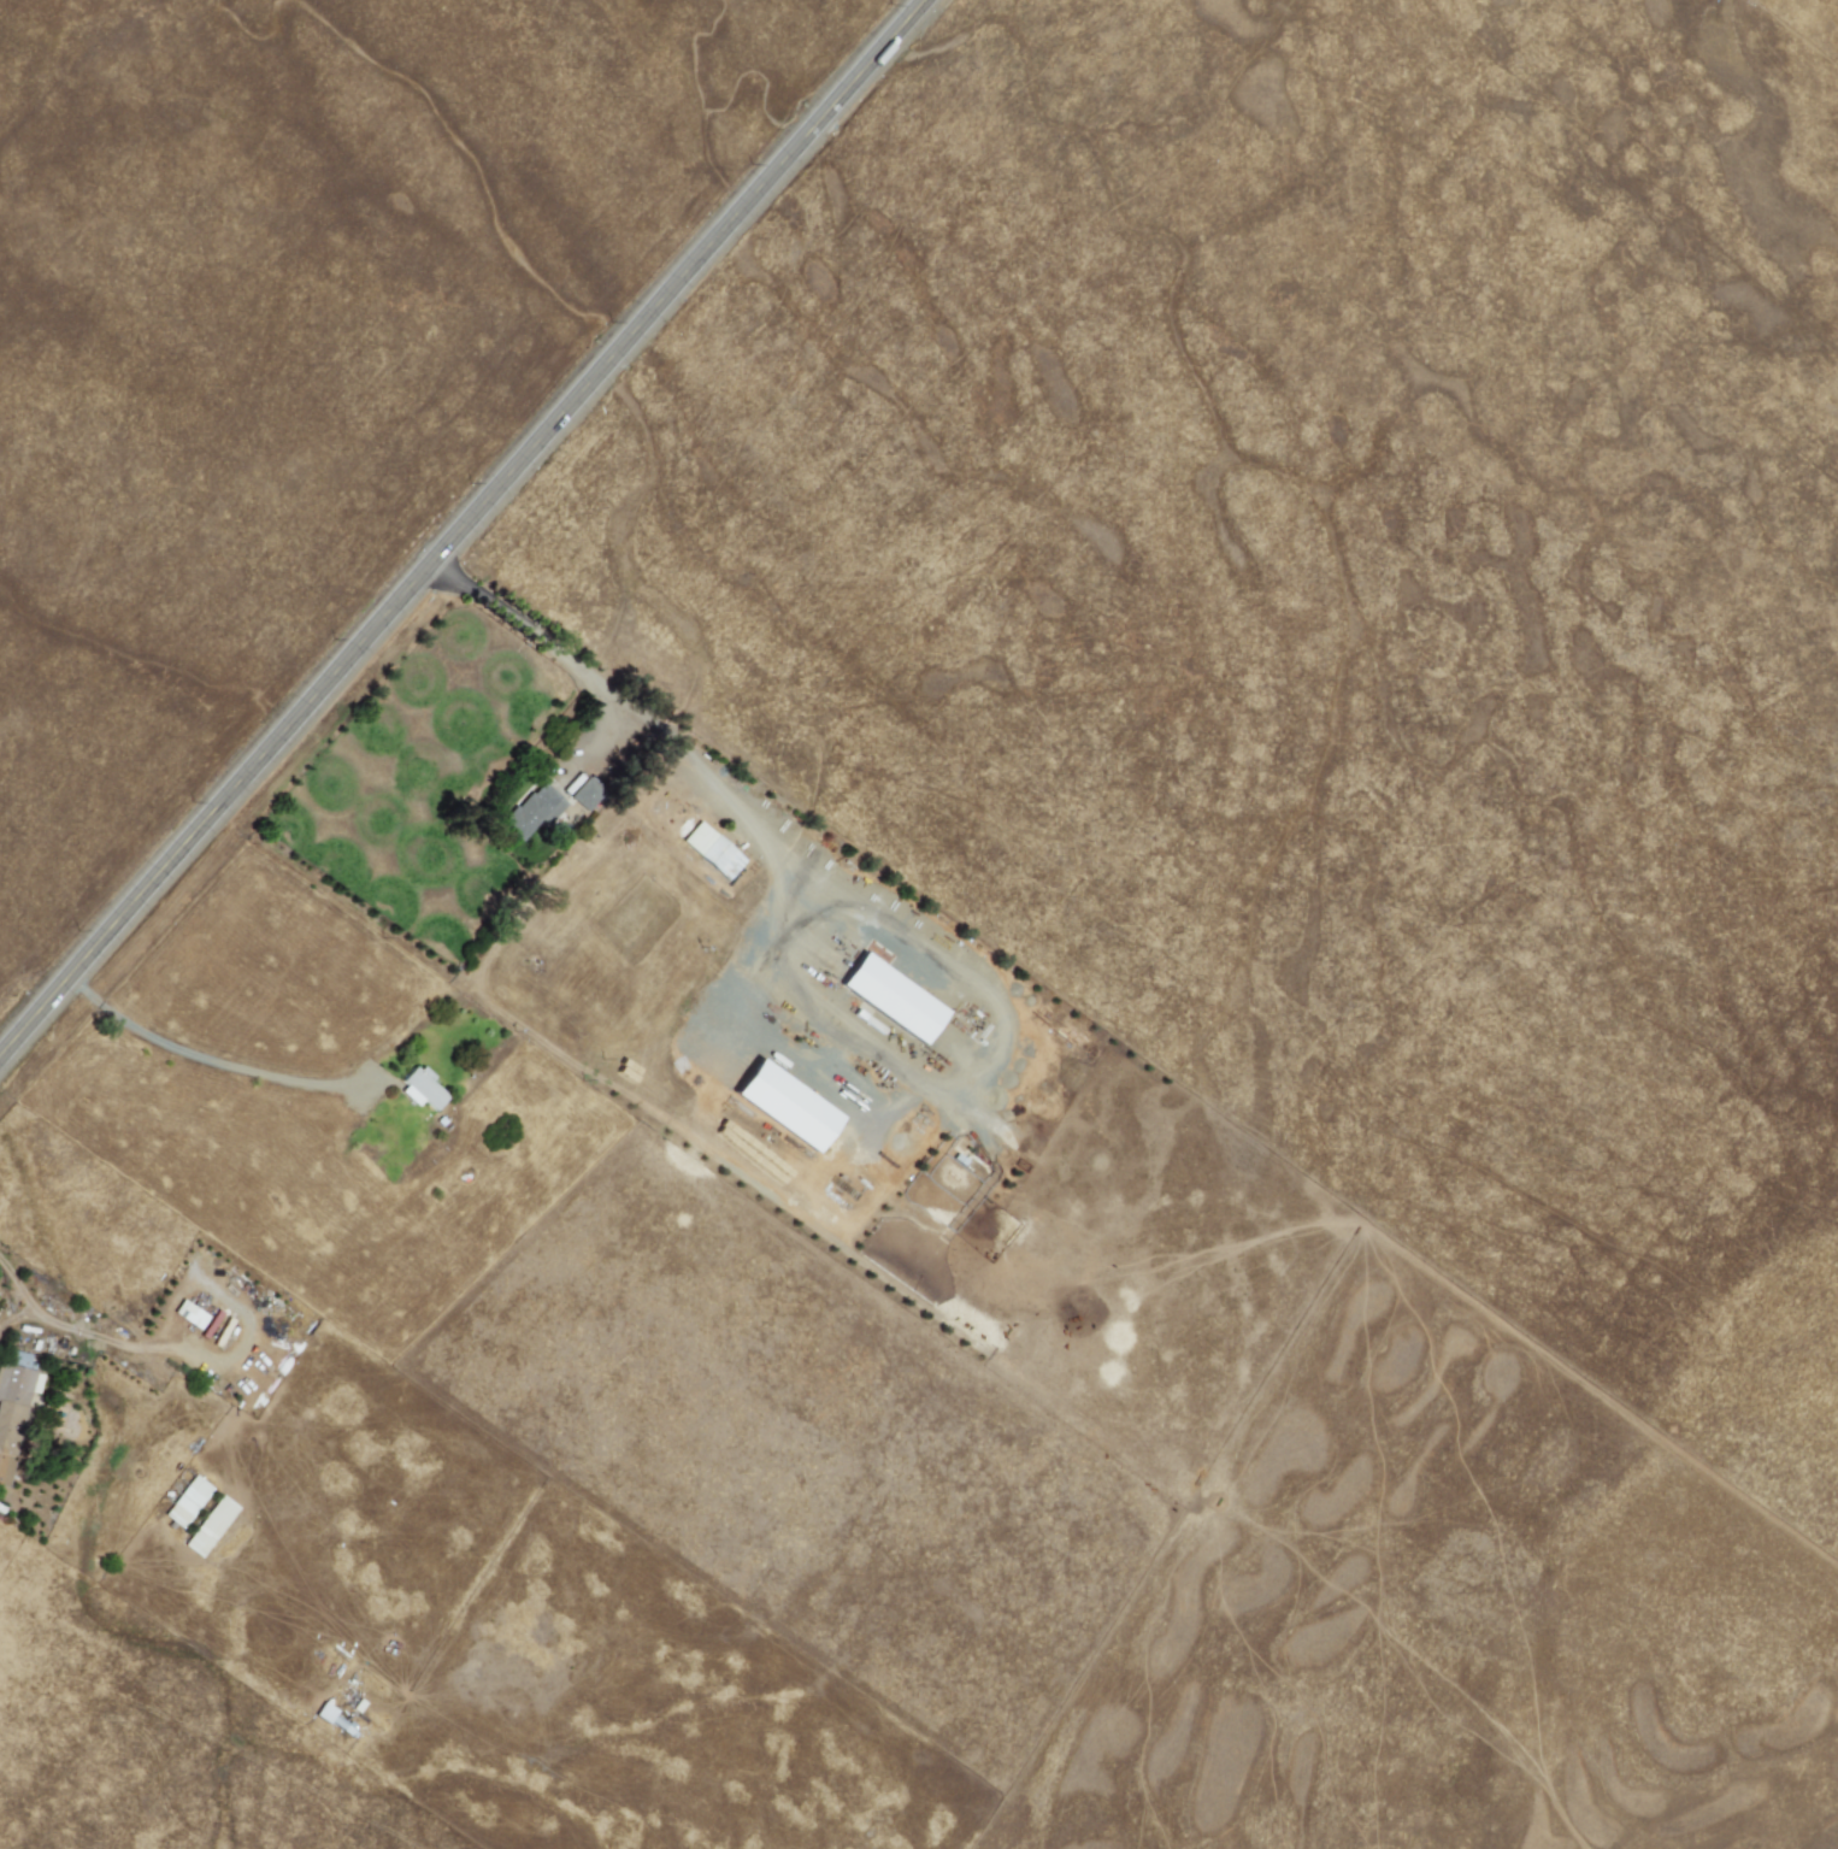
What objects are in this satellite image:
road: (469, 534)
building: (585, 794)
building: (534, 811)
building: (711, 850)
road: (778, 981)
building: (890, 999)
road: (210, 1062)
building: (422, 1088)
building: (784, 1106)
road: (241, 1308)
building: (187, 1313)
road: (20, 1318)
road: (60, 1325)
building: (13, 1408)
building: (187, 1502)
building: (210, 1526)
building: (324, 1713)

